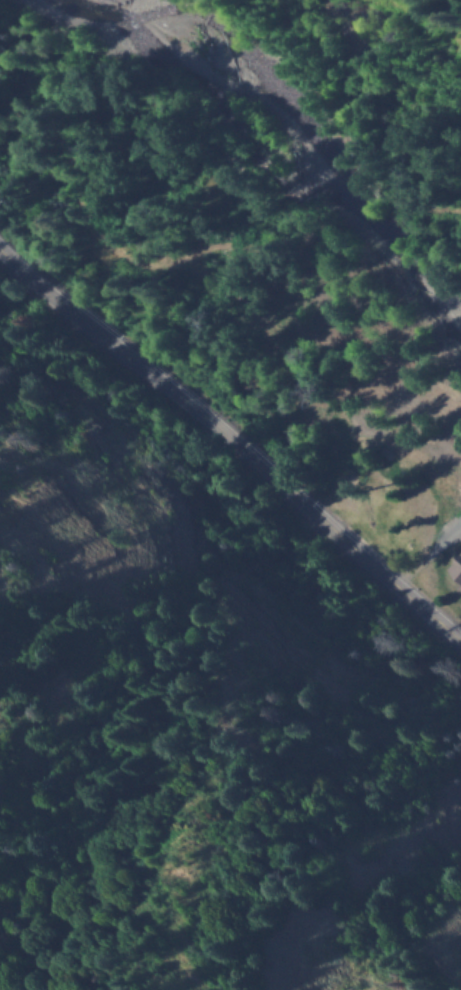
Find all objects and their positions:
river: (324, 152)
road: (234, 443)
building: (418, 528)

